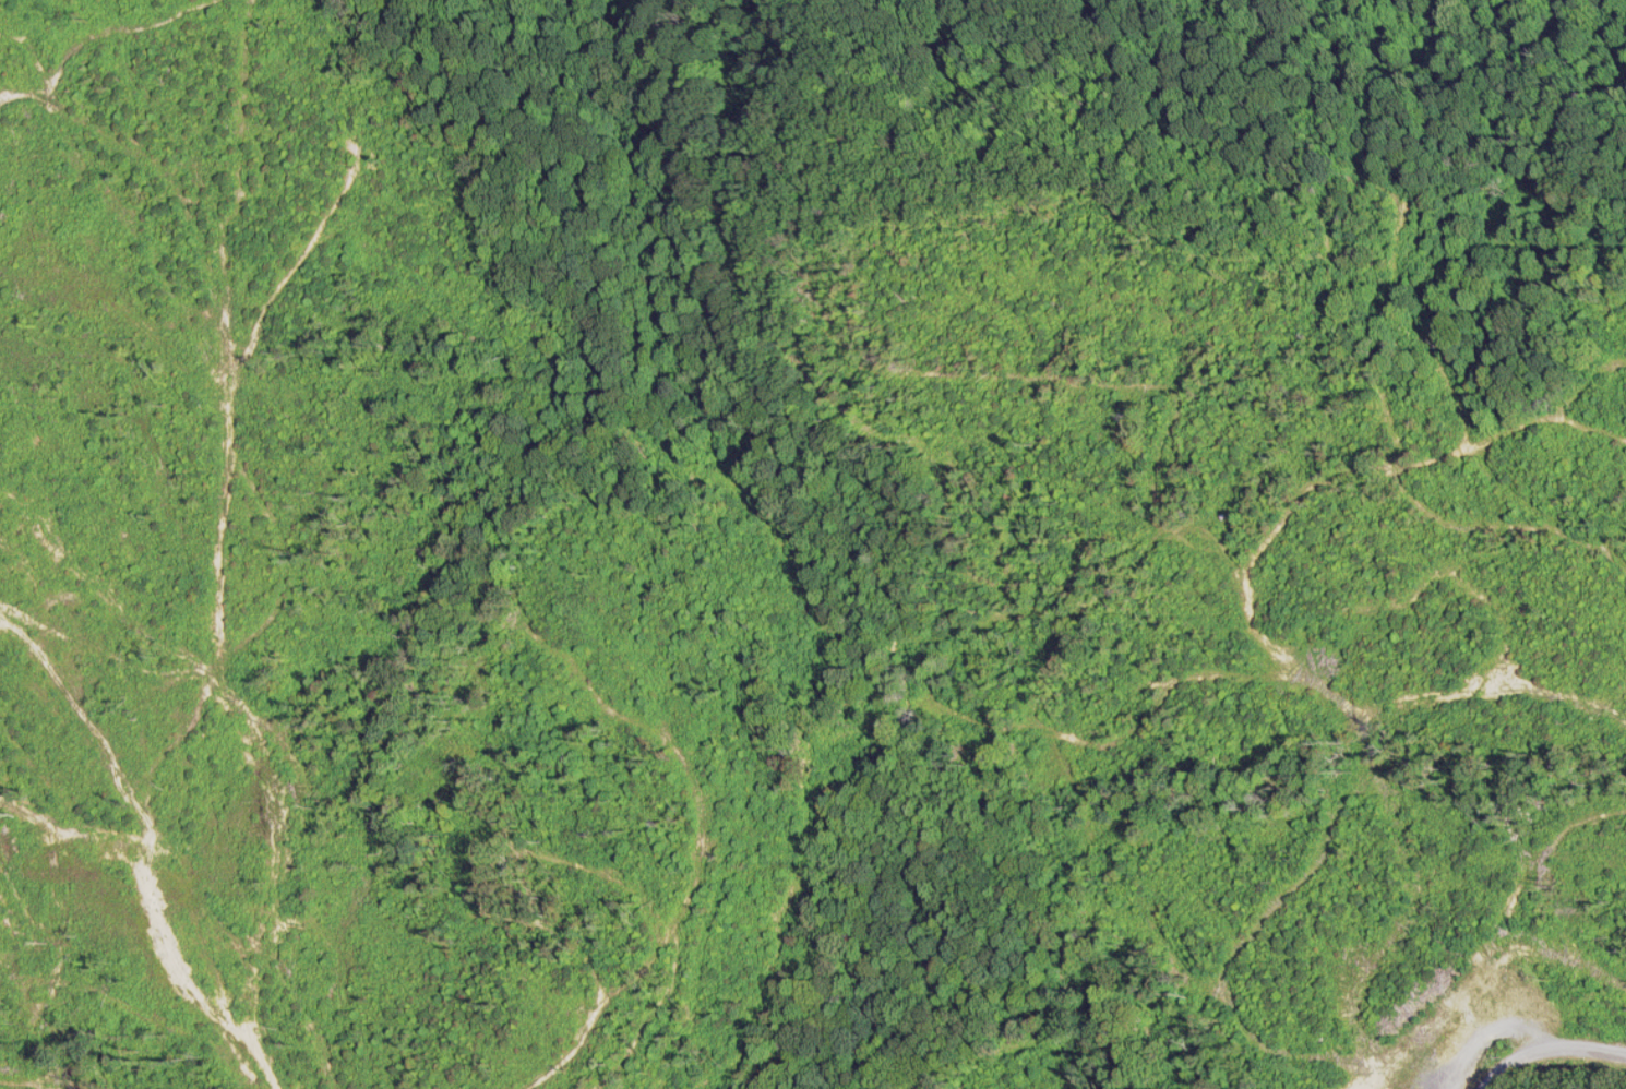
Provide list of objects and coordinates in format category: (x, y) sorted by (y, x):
road: (1549, 1049)

